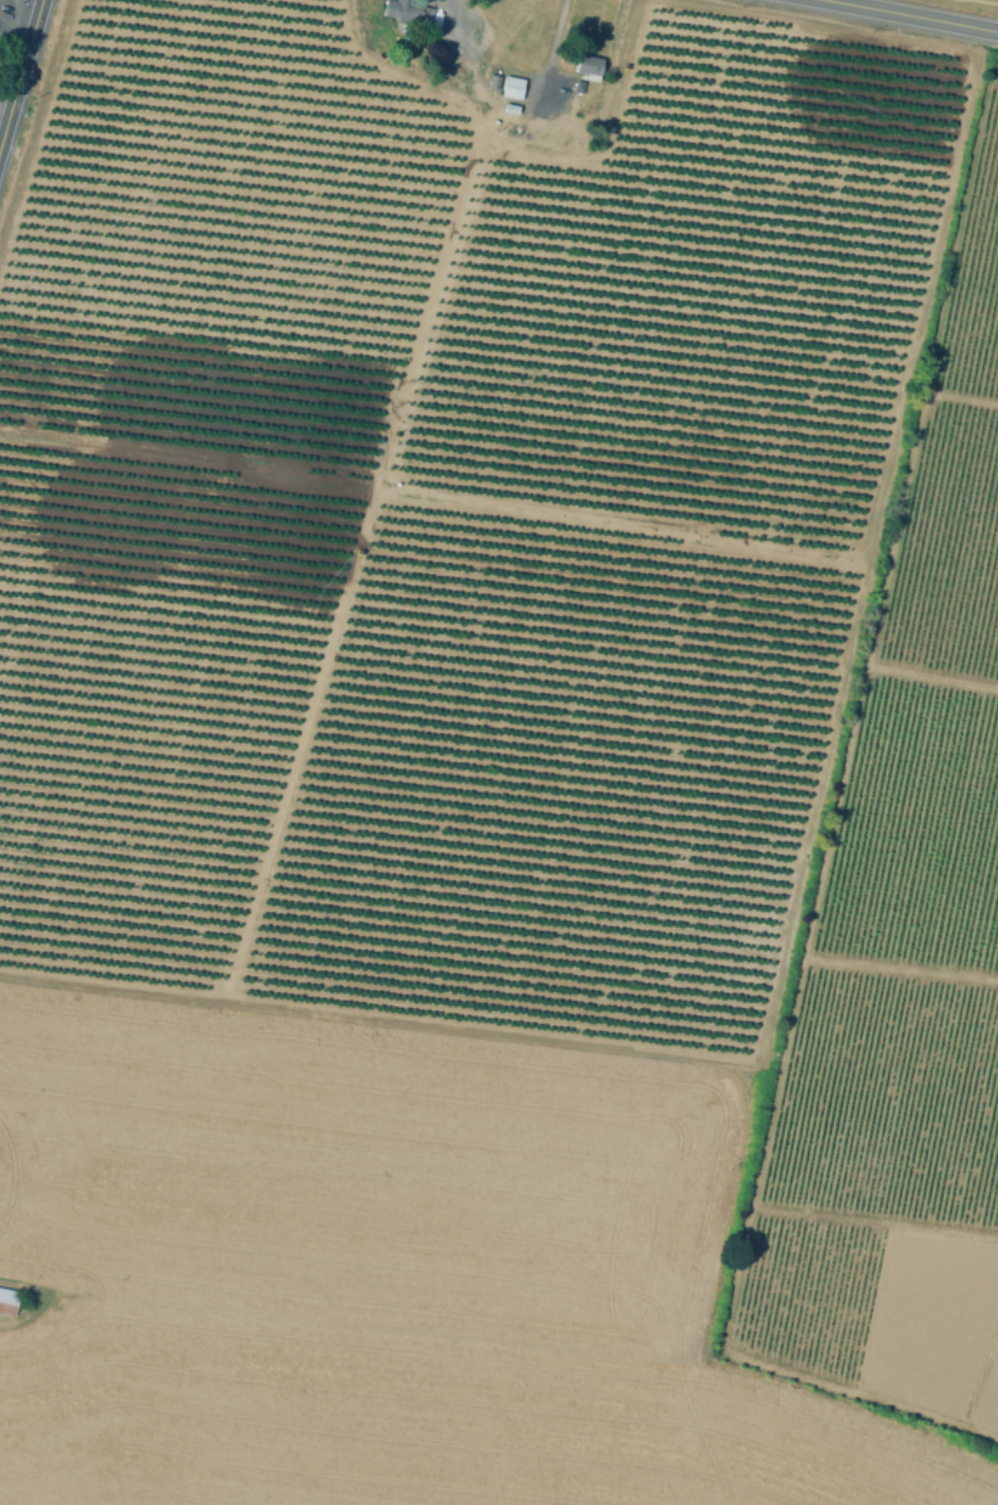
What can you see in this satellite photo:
road: (831, 2)
crop: (971, 5)
road: (18, 12)
building: (406, 15)
road: (903, 17)
road: (461, 28)
crop: (5, 50)
road: (548, 54)
building: (588, 70)
road: (20, 71)
building: (493, 85)
building: (511, 90)
building: (510, 112)
crop: (189, 444)
crop: (627, 549)
road: (884, 559)
road: (330, 632)
crop: (362, 1174)
building: (8, 1300)
crop: (428, 1423)

